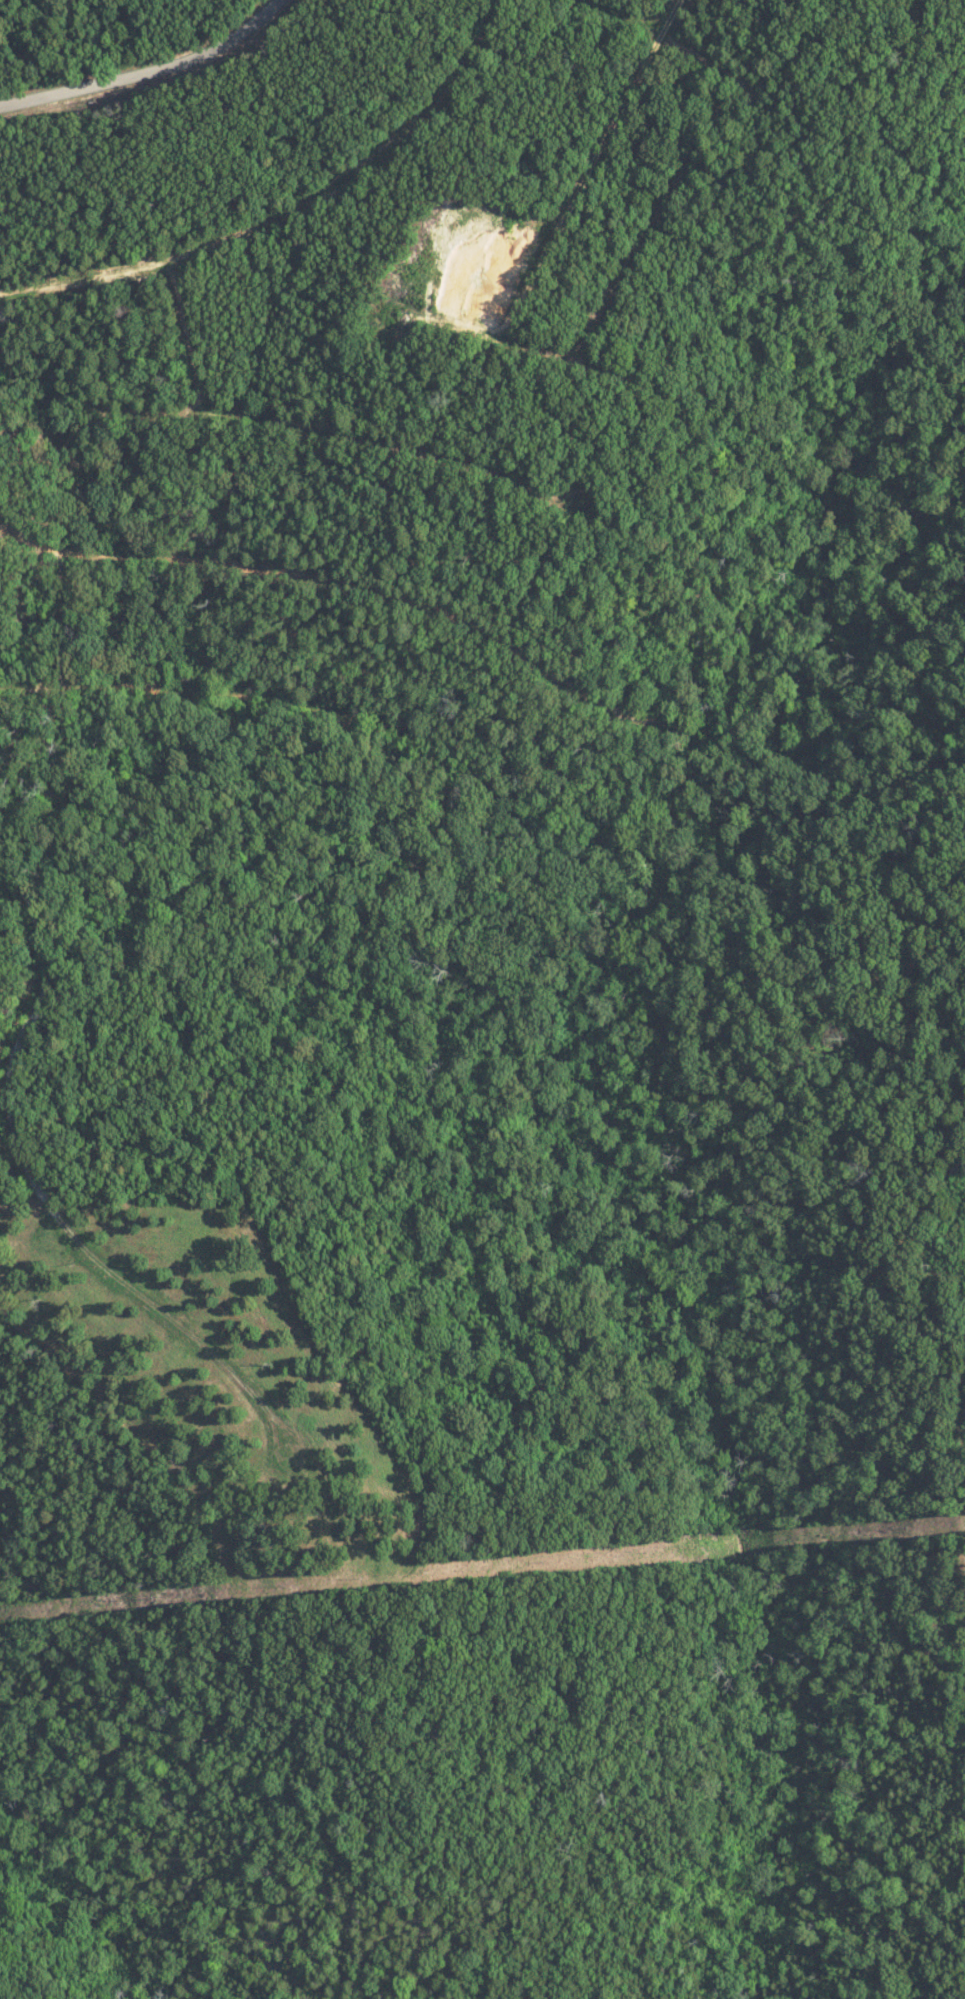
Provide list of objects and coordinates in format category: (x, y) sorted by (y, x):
road: (145, 71)
road: (36, 1188)

